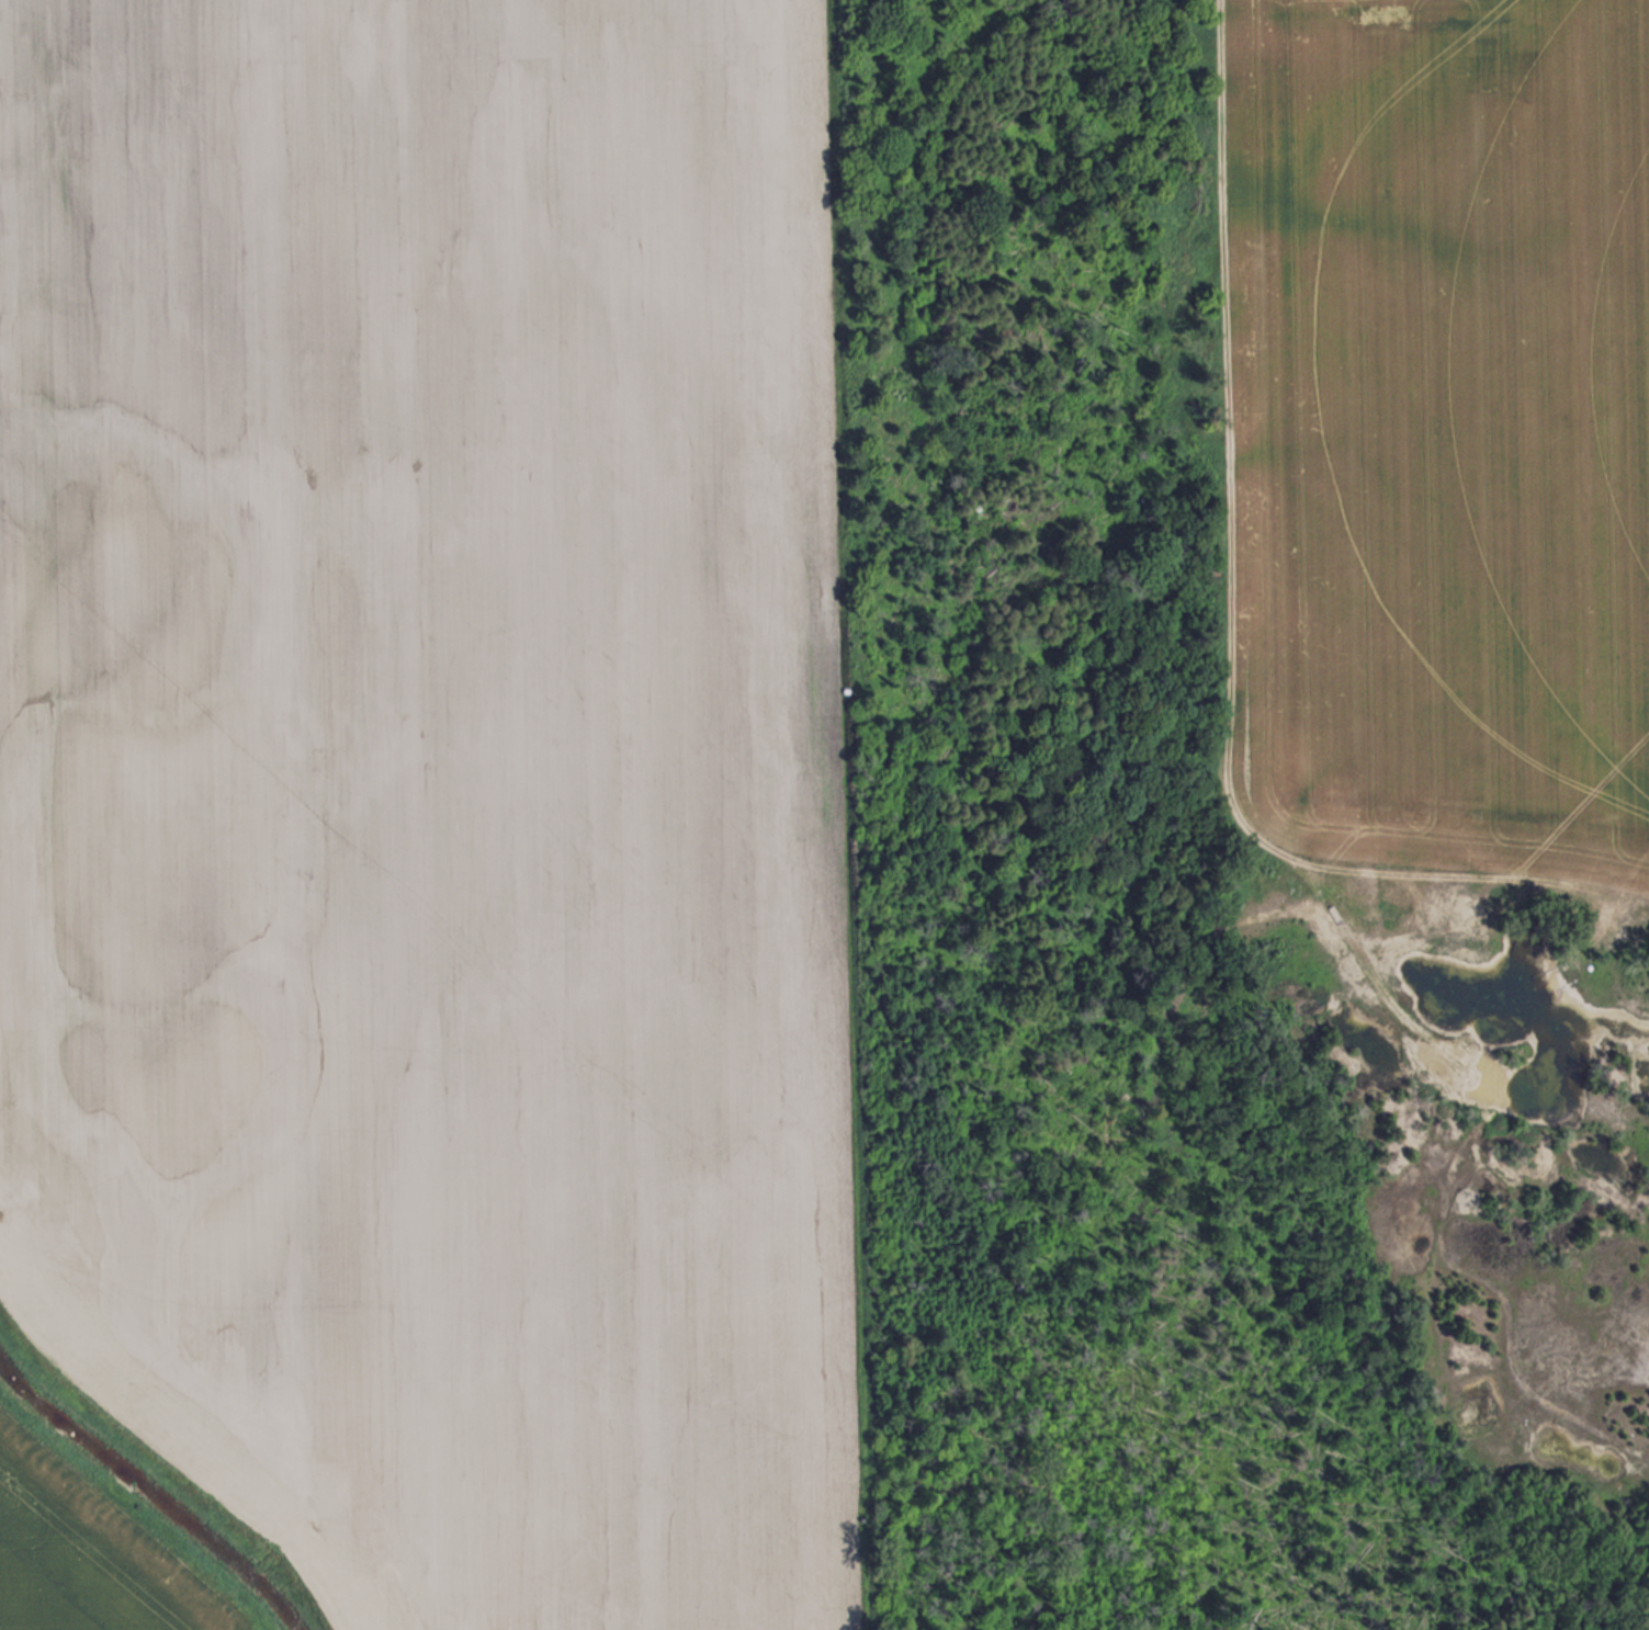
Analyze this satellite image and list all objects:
road: (1616, 502)

